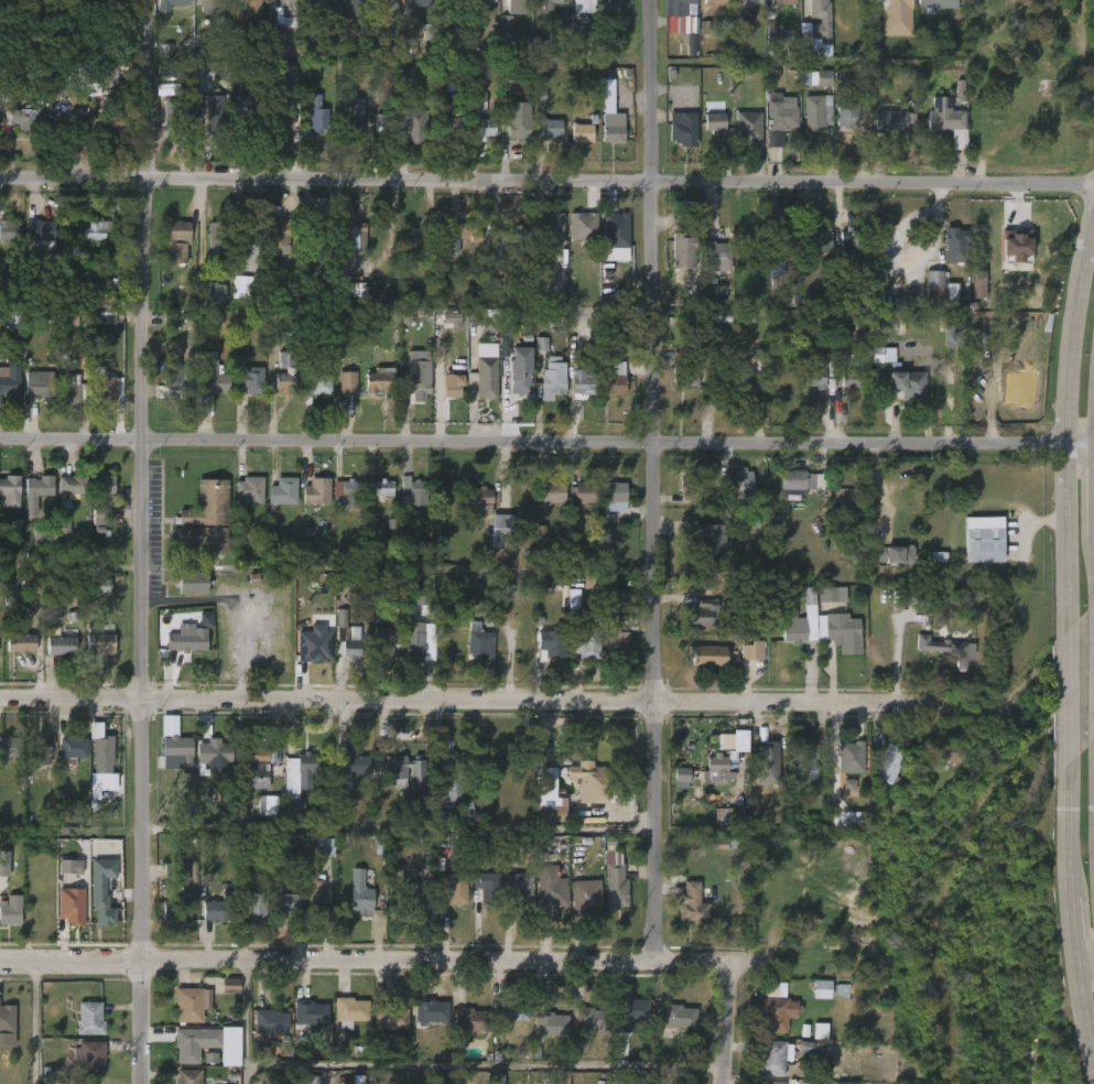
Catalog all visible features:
building: (446, 0)
building: (485, 0)
building: (618, 1)
building: (713, 1)
building: (780, 1)
building: (750, 2)
building: (938, 3)
building: (167, 4)
building: (386, 4)
building: (550, 4)
building: (210, 6)
building: (583, 6)
building: (285, 7)
building: (346, 7)
building: (517, 7)
building: (680, 7)
building: (410, 9)
building: (319, 11)
building: (251, 12)
building: (821, 12)
building: (895, 17)
building: (506, 24)
building: (704, 28)
building: (741, 29)
building: (204, 69)
building: (291, 72)
building: (514, 74)
building: (100, 77)
building: (815, 78)
building: (167, 89)
building: (960, 93)
building: (476, 101)
building: (174, 112)
building: (817, 112)
building: (316, 113)
building: (351, 113)
building: (282, 115)
building: (782, 115)
building: (214, 116)
building: (240, 116)
building: (846, 116)
building: (944, 116)
building: (24, 117)
building: (518, 120)
building: (890, 121)
building: (714, 122)
building: (117, 123)
building: (380, 123)
building: (452, 124)
building: (415, 127)
building: (481, 127)
building: (553, 128)
building: (749, 128)
building: (684, 130)
building: (582, 133)
building: (616, 133)
road: (546, 180)
building: (586, 226)
building: (550, 227)
building: (39, 229)
building: (619, 229)
building: (8, 230)
building: (96, 230)
building: (280, 234)
building: (353, 236)
building: (219, 237)
building: (248, 237)
building: (318, 237)
building: (812, 237)
building: (176, 240)
building: (848, 240)
building: (456, 241)
building: (508, 241)
building: (747, 241)
building: (780, 241)
building: (952, 245)
building: (1016, 246)
building: (683, 250)
building: (716, 256)
building: (977, 284)
building: (248, 286)
building: (8, 288)
building: (935, 288)
building: (353, 290)
building: (216, 292)
building: (719, 293)
building: (68, 316)
building: (172, 318)
building: (14, 319)
building: (452, 321)
building: (489, 325)
building: (952, 332)
building: (541, 344)
building: (520, 369)
building: (288, 370)
building: (486, 370)
building: (812, 375)
building: (180, 376)
building: (214, 376)
building: (685, 376)
building: (717, 376)
building: (317, 377)
building: (553, 377)
building: (614, 377)
building: (11, 380)
building: (251, 380)
building: (383, 380)
building: (851, 380)
building: (420, 381)
building: (583, 381)
building: (37, 382)
building: (347, 382)
building: (909, 386)
building: (453, 387)
building: (108, 388)
building: (74, 391)
road: (1064, 420)
road: (546, 441)
road: (653, 479)
building: (743, 479)
building: (794, 479)
building: (73, 485)
building: (104, 485)
building: (687, 487)
building: (348, 488)
building: (383, 488)
building: (10, 490)
building: (36, 490)
building: (252, 491)
building: (286, 491)
building: (319, 491)
building: (415, 491)
building: (556, 492)
building: (587, 494)
building: (617, 496)
building: (481, 501)
building: (101, 517)
building: (204, 520)
building: (63, 527)
building: (501, 531)
building: (39, 538)
building: (708, 539)
building: (981, 540)
road: (142, 541)
building: (895, 555)
building: (195, 583)
building: (94, 586)
building: (828, 594)
building: (573, 601)
building: (704, 613)
building: (206, 619)
building: (799, 620)
building: (841, 631)
building: (617, 636)
building: (349, 637)
building: (420, 638)
building: (189, 641)
building: (20, 642)
building: (388, 643)
building: (480, 643)
building: (314, 644)
building: (585, 644)
building: (61, 646)
building: (554, 646)
building: (946, 649)
building: (751, 651)
building: (97, 652)
building: (705, 655)
road: (467, 700)
road: (1064, 701)
building: (733, 739)
building: (9, 747)
building: (177, 748)
building: (72, 749)
building: (39, 750)
building: (942, 752)
building: (101, 754)
building: (848, 757)
building: (213, 758)
building: (356, 762)
building: (804, 762)
building: (766, 763)
building: (891, 765)
building: (259, 767)
building: (400, 767)
building: (706, 770)
building: (297, 772)
building: (452, 778)
building: (592, 780)
building: (849, 785)
building: (550, 794)
building: (620, 794)
building: (267, 805)
building: (296, 811)
building: (732, 814)
building: (847, 819)
road: (397, 832)
building: (322, 845)
building: (109, 854)
building: (4, 864)
building: (71, 867)
building: (551, 881)
building: (618, 886)
building: (457, 887)
building: (490, 887)
building: (520, 888)
building: (102, 891)
building: (316, 891)
building: (588, 891)
building: (358, 892)
building: (410, 899)
building: (285, 902)
building: (71, 904)
building: (695, 904)
building: (254, 906)
building: (217, 908)
building: (10, 911)
building: (175, 911)
road: (1074, 912)
road: (1085, 958)
road: (366, 960)
road: (821, 963)
building: (821, 989)
building: (842, 990)
building: (193, 1004)
building: (633, 1007)
building: (776, 1008)
building: (435, 1009)
building: (511, 1009)
building: (354, 1011)
building: (312, 1013)
building: (682, 1016)
building: (389, 1017)
building: (7, 1019)
building: (88, 1019)
building: (272, 1020)
building: (591, 1020)
road: (34, 1022)
road: (248, 1022)
building: (469, 1022)
road: (727, 1022)
building: (551, 1023)
building: (820, 1031)
building: (197, 1043)
building: (770, 1056)
building: (89, 1059)
road: (486, 1067)
building: (188, 1076)
building: (80, 1083)
building: (769, 1083)
building: (846, 1083)

